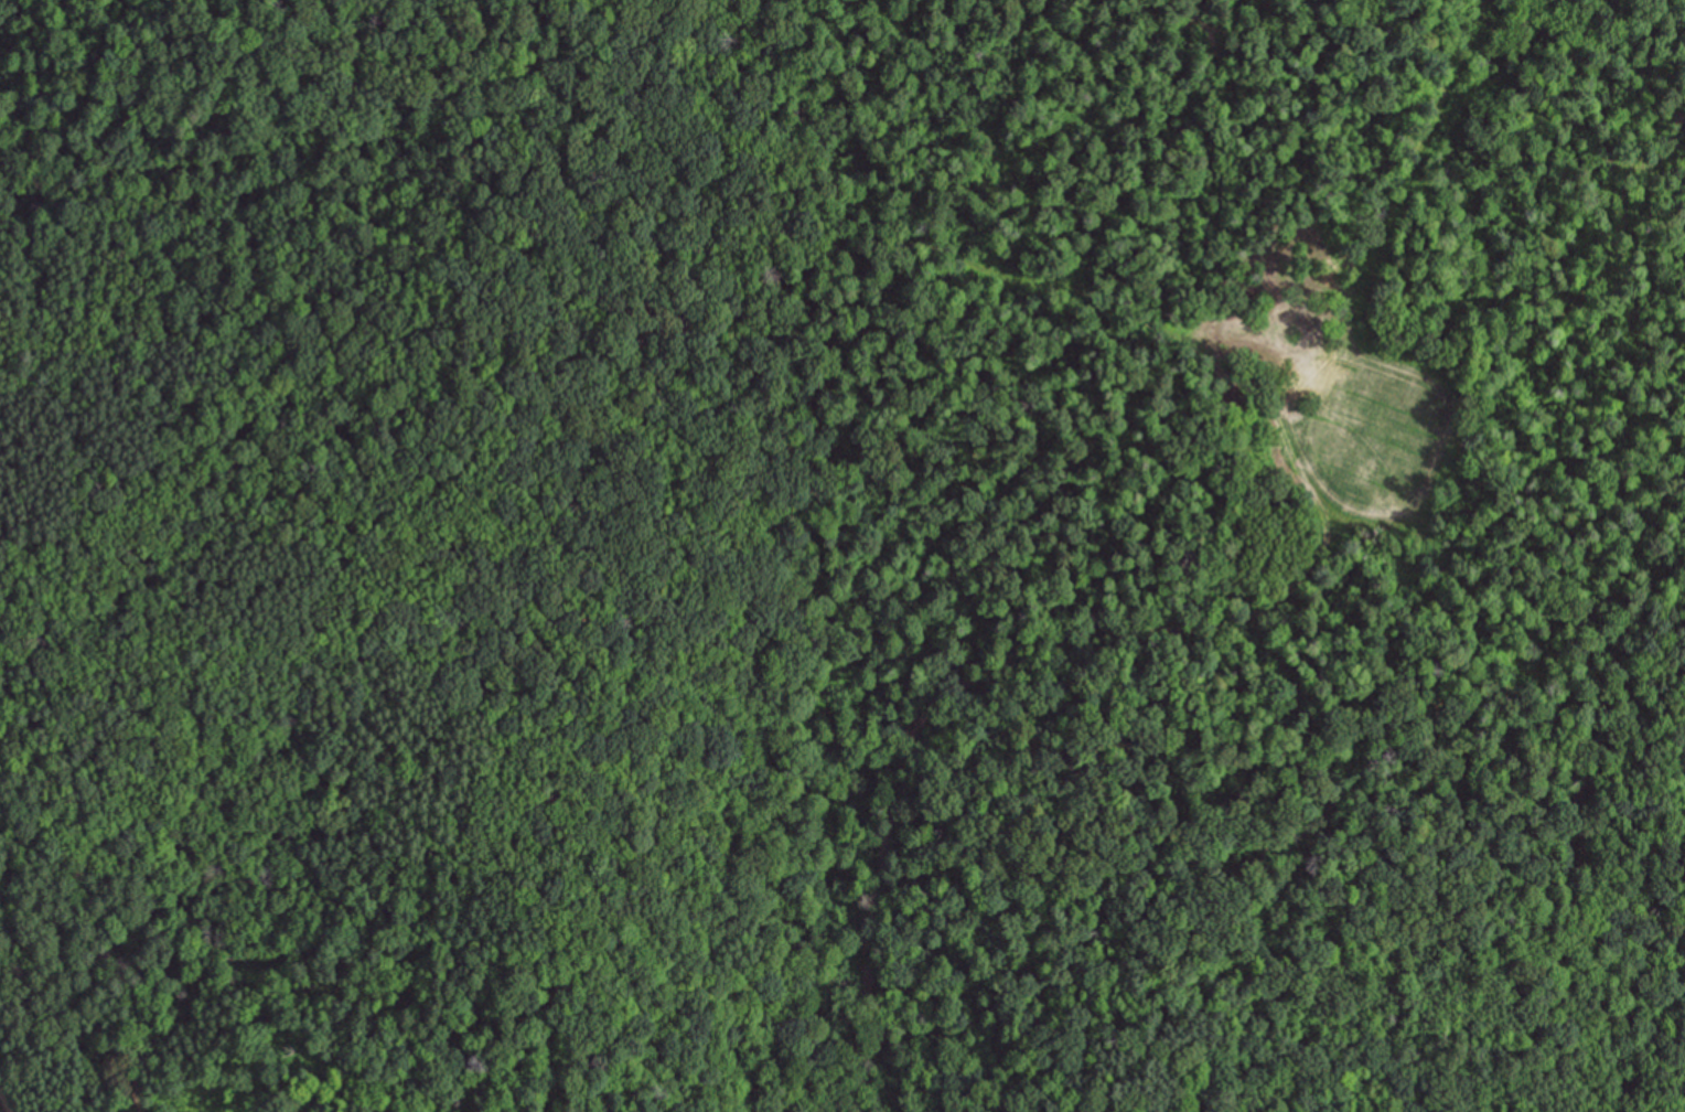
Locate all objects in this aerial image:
road: (4, 1103)

